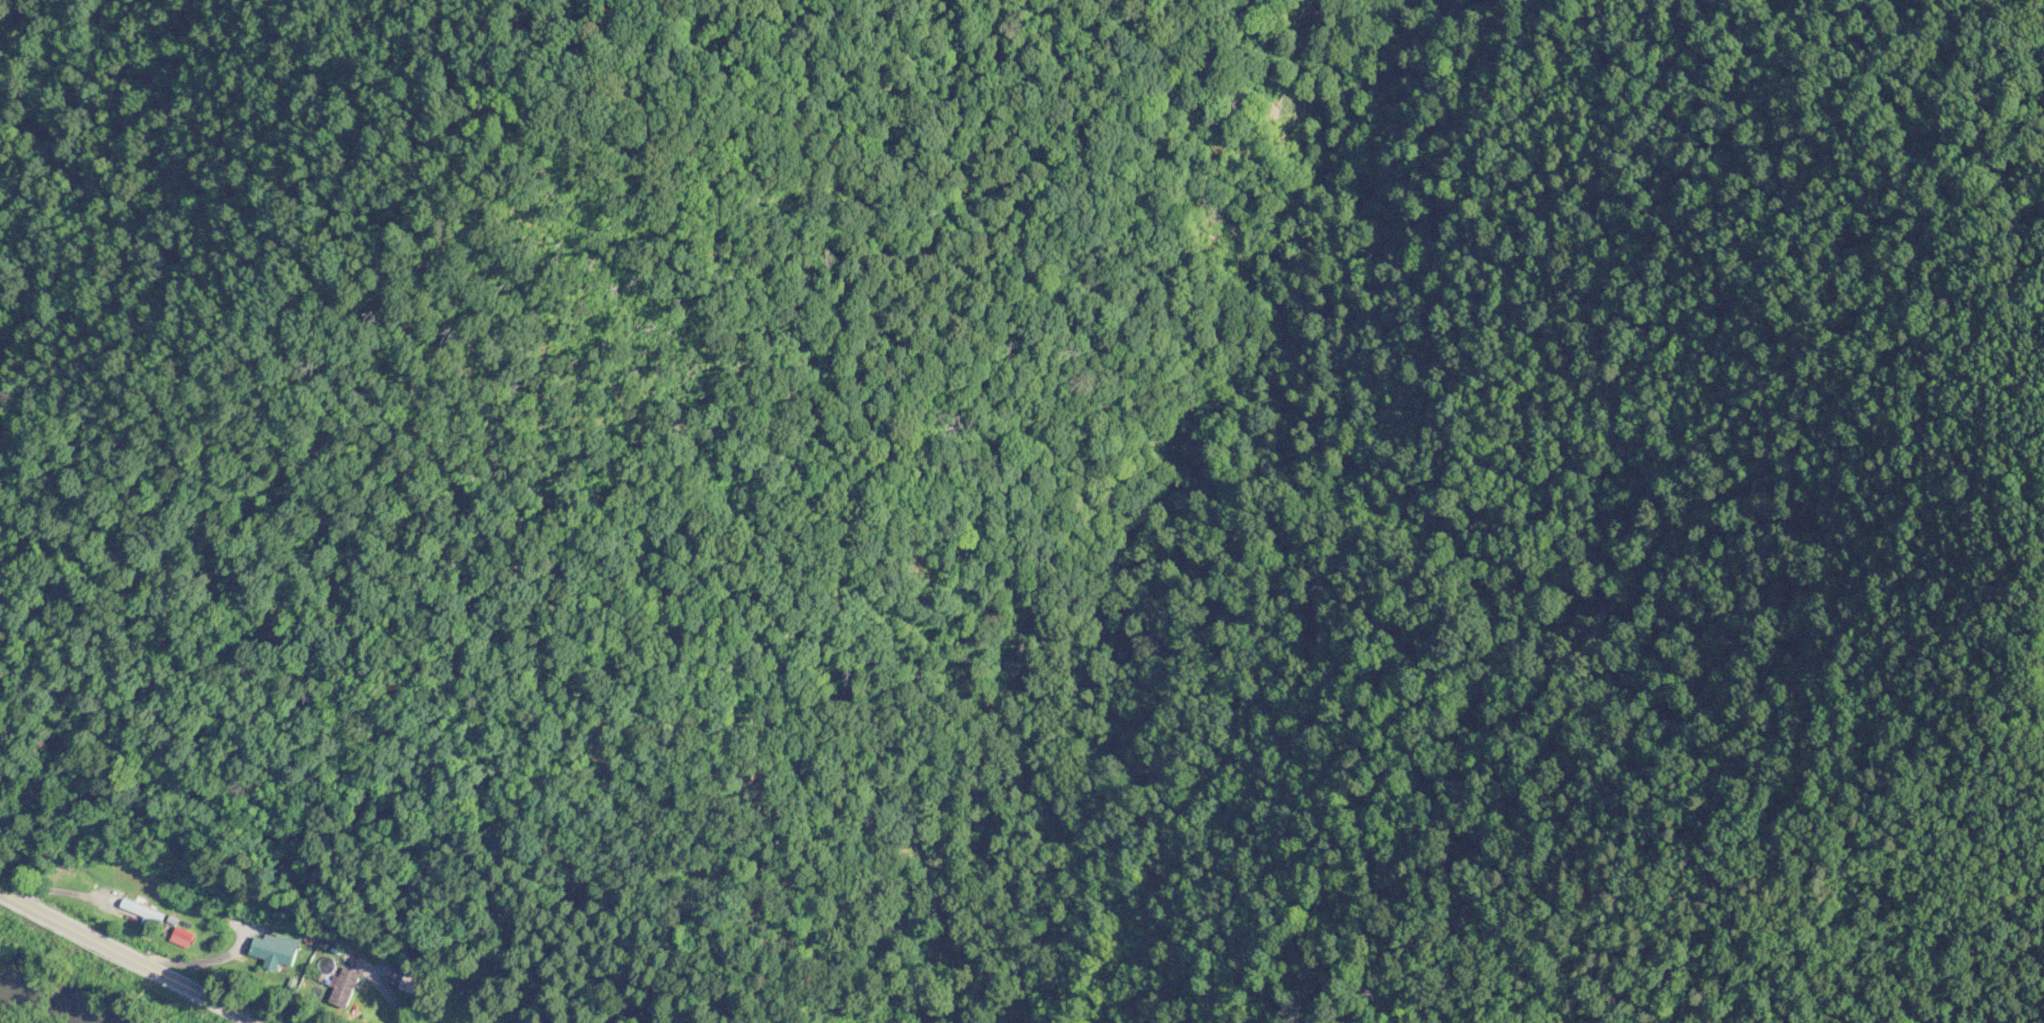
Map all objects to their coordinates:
building: (276, 951)
road: (127, 958)
building: (412, 985)
building: (350, 988)
river: (55, 996)

